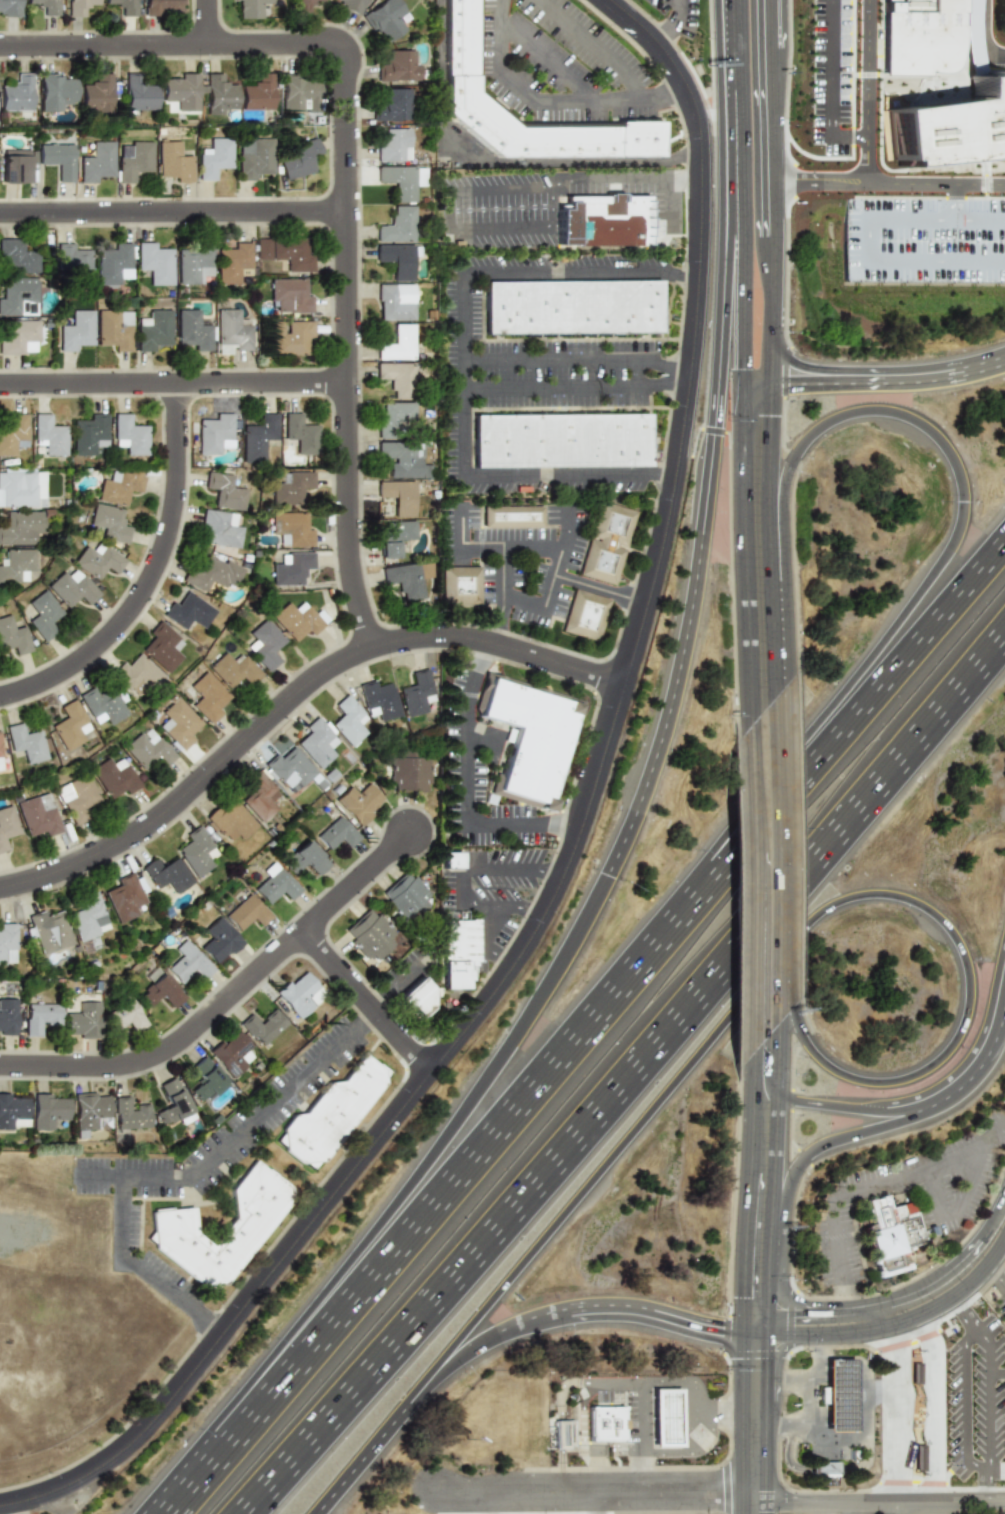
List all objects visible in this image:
building: (351, 4)
building: (303, 5)
building: (42, 6)
building: (122, 6)
building: (158, 6)
building: (77, 7)
building: (9, 8)
building: (250, 8)
building: (386, 19)
road: (205, 21)
road: (771, 23)
road: (671, 28)
building: (920, 36)
building: (971, 36)
road: (980, 38)
building: (468, 44)
road: (740, 48)
road: (596, 49)
road: (547, 61)
parking lot: (832, 63)
building: (400, 66)
road: (906, 76)
road: (829, 86)
building: (179, 90)
building: (53, 91)
road: (866, 91)
building: (95, 92)
building: (15, 93)
building: (257, 93)
building: (300, 93)
building: (137, 94)
building: (218, 94)
road: (668, 95)
road: (533, 102)
building: (393, 105)
road: (721, 117)
building: (950, 127)
road: (773, 141)
building: (394, 145)
building: (253, 157)
building: (57, 158)
building: (214, 158)
building: (300, 158)
building: (132, 159)
building: (95, 161)
building: (173, 161)
road: (490, 162)
road: (733, 165)
road: (743, 166)
building: (17, 167)
road: (627, 177)
road: (986, 177)
road: (345, 178)
building: (402, 179)
road: (819, 181)
road: (935, 184)
road: (928, 197)
road: (955, 198)
road: (557, 208)
road: (667, 208)
road: (172, 211)
road: (451, 213)
building: (612, 215)
road: (978, 220)
building: (398, 225)
road: (868, 238)
building: (925, 240)
parking garage: (925, 240)
building: (287, 251)
building: (17, 257)
building: (399, 259)
building: (153, 262)
building: (234, 262)
road: (979, 262)
building: (74, 263)
building: (112, 263)
building: (193, 263)
road: (581, 274)
road: (771, 285)
building: (290, 295)
building: (19, 297)
building: (396, 302)
building: (577, 306)
road: (744, 315)
building: (114, 329)
building: (153, 329)
building: (193, 330)
building: (76, 331)
building: (232, 332)
building: (20, 337)
building: (291, 338)
building: (399, 343)
road: (550, 359)
road: (661, 363)
road: (771, 366)
road: (804, 367)
road: (637, 371)
road: (465, 375)
road: (927, 375)
building: (399, 379)
road: (172, 382)
road: (662, 383)
road: (551, 387)
road: (802, 387)
traffic signals: (755, 392)
building: (395, 416)
building: (13, 433)
building: (89, 434)
building: (129, 434)
building: (215, 434)
building: (299, 434)
building: (50, 435)
building: (563, 436)
building: (258, 438)
building: (405, 458)
road: (569, 475)
building: (119, 486)
road: (756, 486)
building: (293, 487)
building: (18, 490)
building: (225, 490)
road: (968, 490)
building: (400, 495)
building: (516, 516)
building: (111, 522)
building: (21, 526)
building: (292, 527)
building: (220, 528)
road: (460, 529)
building: (395, 536)
building: (610, 543)
road: (510, 548)
building: (98, 560)
road: (699, 561)
building: (17, 564)
building: (292, 567)
building: (214, 573)
road: (149, 575)
road: (552, 577)
building: (406, 578)
building: (464, 585)
building: (73, 589)
road: (599, 590)
road: (504, 596)
building: (187, 611)
building: (44, 615)
building: (588, 615)
building: (299, 619)
building: (12, 635)
building: (267, 644)
road: (758, 645)
building: (163, 646)
building: (236, 669)
road: (899, 670)
building: (137, 673)
building: (416, 692)
road: (291, 694)
building: (209, 697)
building: (380, 700)
building: (102, 704)
building: (349, 720)
building: (180, 723)
building: (70, 725)
road: (480, 738)
building: (534, 738)
building: (317, 741)
building: (26, 742)
building: (150, 749)
building: (1, 754)
building: (291, 768)
building: (410, 772)
building: (117, 776)
road: (463, 788)
road: (757, 791)
building: (261, 796)
building: (78, 798)
building: (359, 802)
building: (41, 815)
building: (230, 821)
building: (8, 825)
building: (337, 834)
road: (572, 843)
building: (197, 851)
building: (307, 859)
building: (454, 861)
building: (168, 875)
road: (460, 879)
building: (276, 886)
building: (125, 896)
building: (407, 897)
building: (246, 913)
building: (88, 917)
building: (50, 930)
building: (370, 934)
road: (771, 940)
building: (219, 941)
building: (7, 943)
road: (489, 943)
building: (462, 950)
road: (757, 956)
road: (783, 958)
building: (189, 963)
building: (160, 992)
building: (298, 993)
road: (225, 997)
building: (421, 999)
road: (363, 1000)
building: (41, 1015)
building: (126, 1015)
building: (8, 1016)
building: (83, 1020)
building: (264, 1026)
road: (996, 1040)
building: (233, 1052)
road: (625, 1072)
building: (207, 1078)
building: (172, 1101)
road: (801, 1104)
road: (920, 1108)
building: (50, 1109)
building: (14, 1111)
building: (91, 1111)
building: (131, 1115)
building: (334, 1116)
road: (1001, 1130)
road: (237, 1131)
road: (847, 1135)
road: (755, 1143)
road: (484, 1154)
road: (873, 1186)
road: (405, 1205)
road: (959, 1206)
building: (175, 1228)
building: (893, 1238)
road: (957, 1264)
road: (145, 1266)
road: (996, 1272)
road: (966, 1282)
road: (755, 1286)
traffic signals: (755, 1291)
road: (848, 1302)
road: (867, 1305)
road: (818, 1310)
road: (964, 1312)
road: (889, 1313)
road: (662, 1317)
road: (906, 1319)
road: (772, 1321)
road: (535, 1323)
traffic signals: (716, 1328)
road: (873, 1328)
road: (798, 1332)
road: (834, 1332)
traffic signals: (799, 1333)
road: (970, 1336)
road: (816, 1344)
road: (754, 1350)
road: (856, 1355)
road: (463, 1357)
traffic signals: (755, 1362)
road: (816, 1365)
road: (785, 1375)
road: (690, 1385)
road: (878, 1392)
road: (754, 1394)
road: (989, 1397)
road: (816, 1398)
building: (839, 1399)
road: (965, 1403)
road: (934, 1406)
road: (895, 1412)
road: (785, 1417)
building: (671, 1422)
building: (618, 1426)
road: (816, 1436)
building: (567, 1437)
road: (639, 1438)
road: (859, 1441)
road: (370, 1446)
road: (753, 1453)
building: (918, 1458)
road: (980, 1466)
building: (824, 1471)
road: (990, 1484)
road: (597, 1491)
road: (823, 1500)
road: (949, 1500)
road: (488, 1502)
road: (598, 1502)
road: (753, 1504)
road: (853, 1507)
road: (887, 1507)

